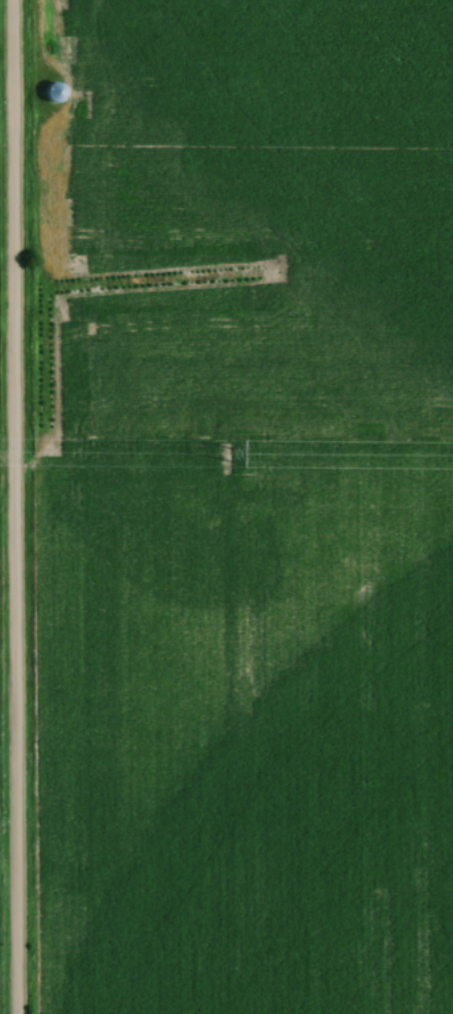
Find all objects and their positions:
building: (56, 94)
power tower: (226, 455)
road: (9, 507)

